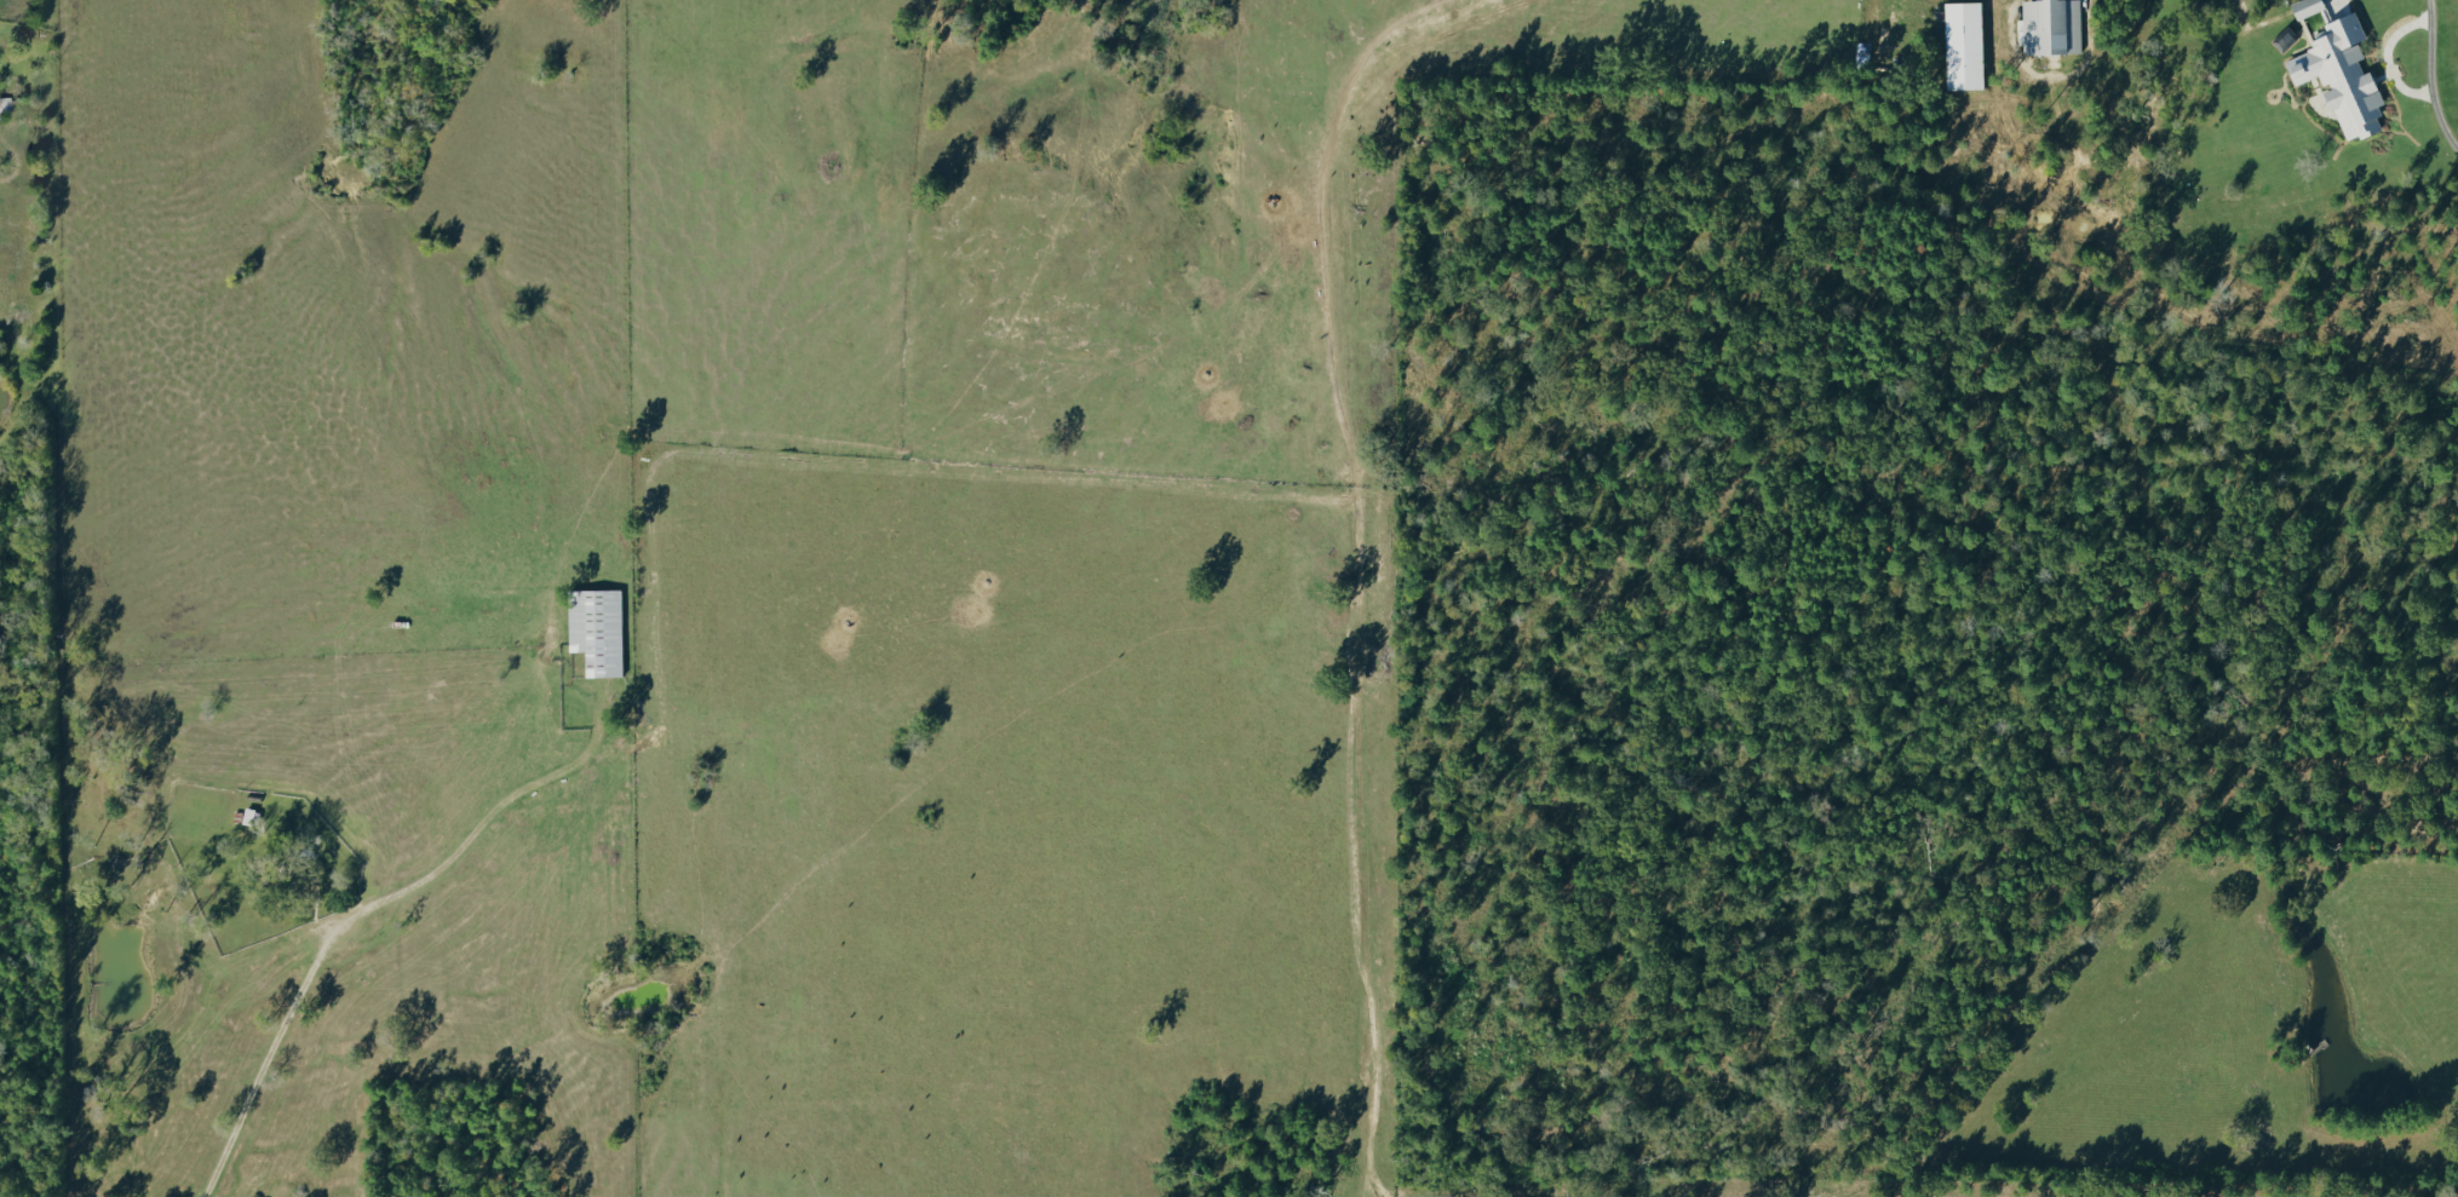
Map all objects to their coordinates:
building: (2309, 7)
building: (1890, 25)
building: (2055, 27)
building: (1872, 28)
building: (1968, 45)
building: (2344, 75)
road: (2435, 108)
building: (598, 628)
building: (251, 815)
road: (356, 910)

